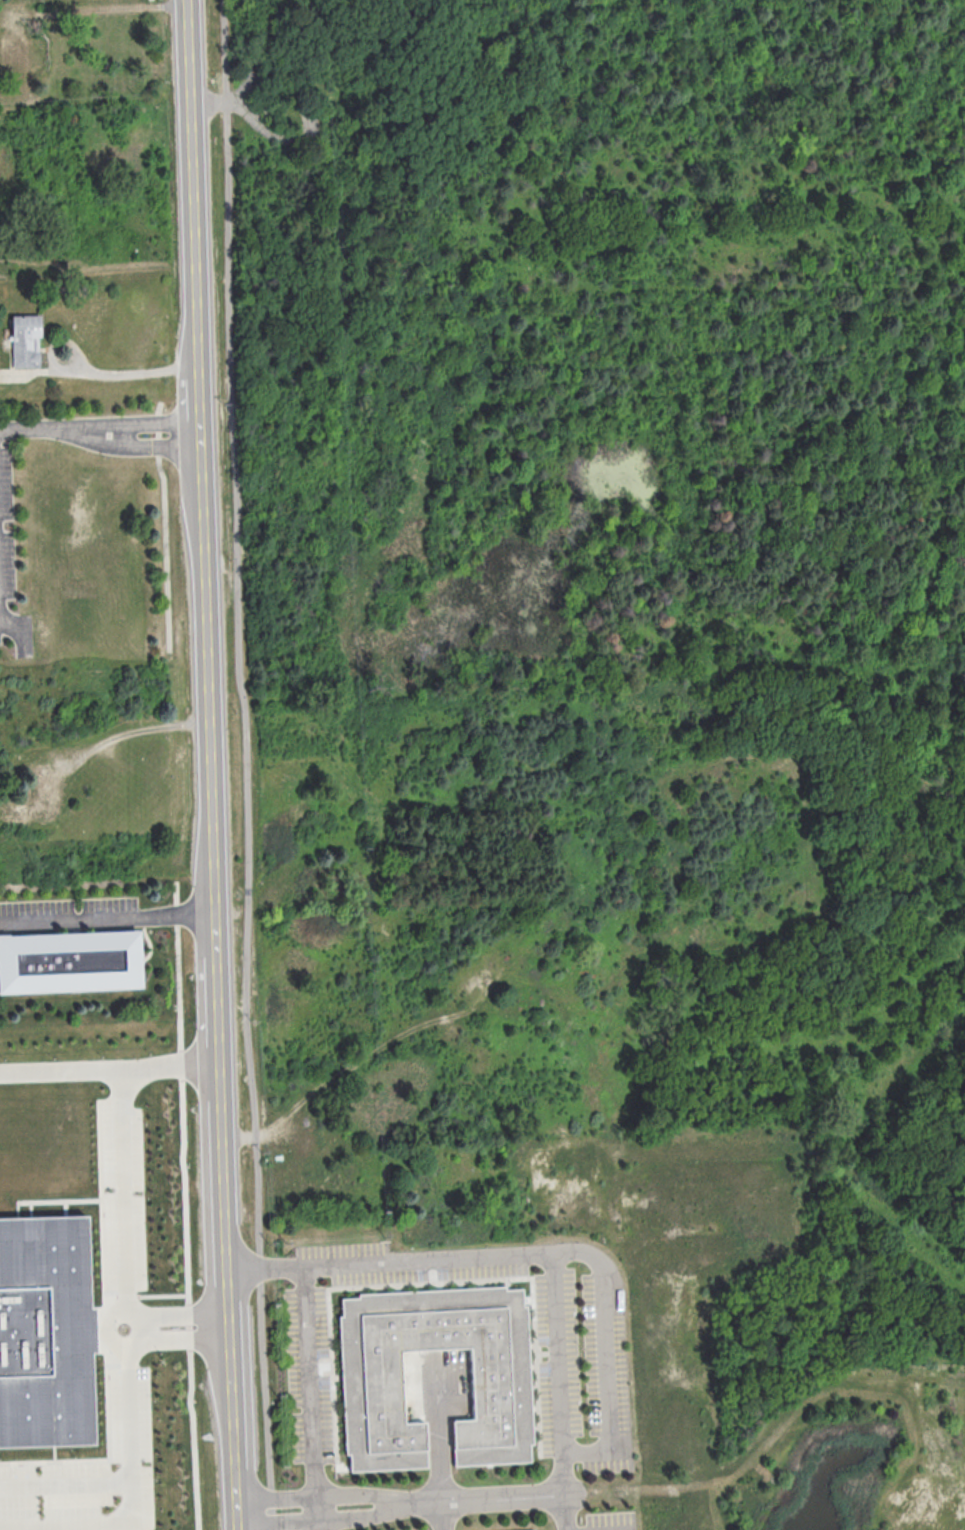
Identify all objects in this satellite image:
road: (151, 2)
road: (230, 100)
road: (262, 112)
road: (193, 116)
road: (277, 134)
building: (25, 340)
road: (111, 373)
road: (135, 423)
road: (34, 427)
road: (133, 448)
road: (165, 524)
road: (24, 629)
road: (248, 764)
road: (214, 881)
road: (107, 919)
building: (69, 963)
road: (110, 1069)
road: (119, 1192)
road: (185, 1205)
road: (532, 1256)
road: (129, 1318)
road: (181, 1326)
building: (45, 1329)
building: (371, 1385)
road: (561, 1392)
road: (311, 1398)
road: (439, 1445)
road: (64, 1483)
road: (129, 1494)
road: (323, 1495)
road: (488, 1498)
road: (325, 1521)

